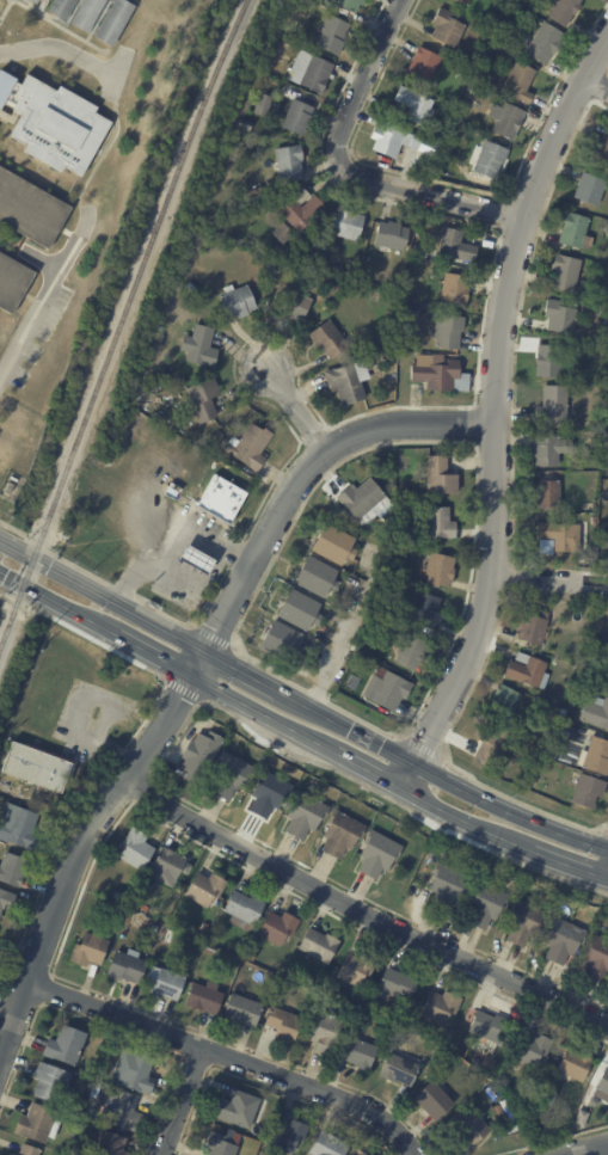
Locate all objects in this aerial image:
building: (31, 1)
building: (461, 2)
building: (348, 5)
building: (61, 8)
building: (563, 11)
building: (86, 14)
building: (110, 21)
building: (447, 29)
building: (331, 36)
building: (545, 44)
road: (59, 51)
building: (490, 61)
building: (423, 64)
building: (314, 75)
building: (474, 75)
building: (518, 84)
road: (595, 84)
building: (473, 91)
building: (485, 94)
building: (260, 106)
building: (413, 106)
building: (460, 113)
building: (444, 115)
building: (296, 118)
building: (506, 122)
building: (241, 127)
building: (56, 128)
building: (388, 141)
building: (601, 150)
building: (442, 159)
building: (490, 161)
building: (288, 167)
road: (344, 168)
building: (590, 188)
building: (253, 198)
building: (29, 209)
building: (300, 210)
road: (481, 222)
building: (326, 225)
building: (348, 227)
building: (576, 231)
building: (282, 234)
building: (391, 236)
building: (487, 245)
building: (455, 250)
building: (270, 269)
building: (565, 271)
building: (12, 283)
building: (454, 289)
road: (43, 291)
building: (189, 291)
building: (606, 296)
building: (237, 303)
building: (294, 306)
building: (407, 313)
building: (559, 317)
railway: (121, 319)
building: (447, 332)
building: (600, 339)
building: (328, 342)
building: (199, 349)
building: (547, 361)
building: (391, 362)
building: (440, 376)
building: (346, 383)
building: (203, 401)
building: (552, 405)
road: (295, 410)
road: (497, 410)
building: (159, 418)
building: (171, 426)
road: (311, 432)
building: (216, 437)
building: (248, 449)
building: (546, 450)
building: (440, 477)
building: (8, 486)
road: (268, 489)
building: (547, 491)
building: (405, 494)
building: (220, 499)
building: (363, 500)
building: (591, 506)
building: (387, 517)
building: (440, 523)
building: (558, 537)
building: (604, 543)
building: (333, 545)
road: (176, 547)
road: (233, 553)
building: (414, 553)
building: (195, 564)
building: (437, 571)
building: (395, 576)
building: (317, 577)
road: (549, 579)
road: (202, 585)
road: (213, 594)
building: (299, 610)
building: (426, 610)
building: (533, 627)
building: (596, 639)
building: (282, 641)
building: (411, 652)
road: (204, 653)
road: (194, 668)
building: (528, 671)
building: (345, 687)
building: (391, 692)
building: (504, 702)
road: (75, 712)
building: (596, 712)
building: (563, 713)
building: (567, 733)
road: (300, 735)
building: (487, 743)
building: (199, 754)
building: (595, 757)
building: (37, 767)
building: (229, 774)
building: (586, 791)
building: (268, 792)
road: (508, 812)
building: (303, 813)
building: (20, 825)
building: (340, 833)
building: (135, 848)
building: (377, 853)
building: (166, 866)
building: (13, 870)
building: (446, 886)
building: (204, 887)
building: (111, 895)
building: (5, 897)
building: (123, 898)
building: (98, 904)
building: (134, 904)
building: (485, 904)
building: (242, 908)
road: (361, 910)
building: (523, 921)
building: (277, 926)
building: (203, 927)
building: (153, 928)
building: (247, 929)
building: (563, 940)
building: (318, 944)
building: (88, 950)
building: (596, 958)
building: (125, 965)
building: (356, 967)
building: (167, 983)
building: (397, 984)
building: (204, 997)
building: (441, 1007)
building: (241, 1009)
building: (283, 1024)
building: (486, 1026)
building: (321, 1031)
building: (65, 1045)
building: (533, 1049)
building: (357, 1052)
road: (229, 1056)
building: (573, 1064)
building: (399, 1069)
building: (133, 1070)
building: (51, 1082)
building: (602, 1086)
building: (526, 1093)
building: (543, 1095)
building: (432, 1099)
road: (182, 1100)
building: (237, 1108)
building: (124, 1111)
building: (581, 1118)
building: (37, 1123)
building: (468, 1128)
building: (287, 1135)
building: (109, 1144)
building: (219, 1144)
building: (327, 1145)
building: (27, 1150)
road: (591, 1150)
building: (360, 1153)
building: (10, 1154)
building: (362, 1154)

